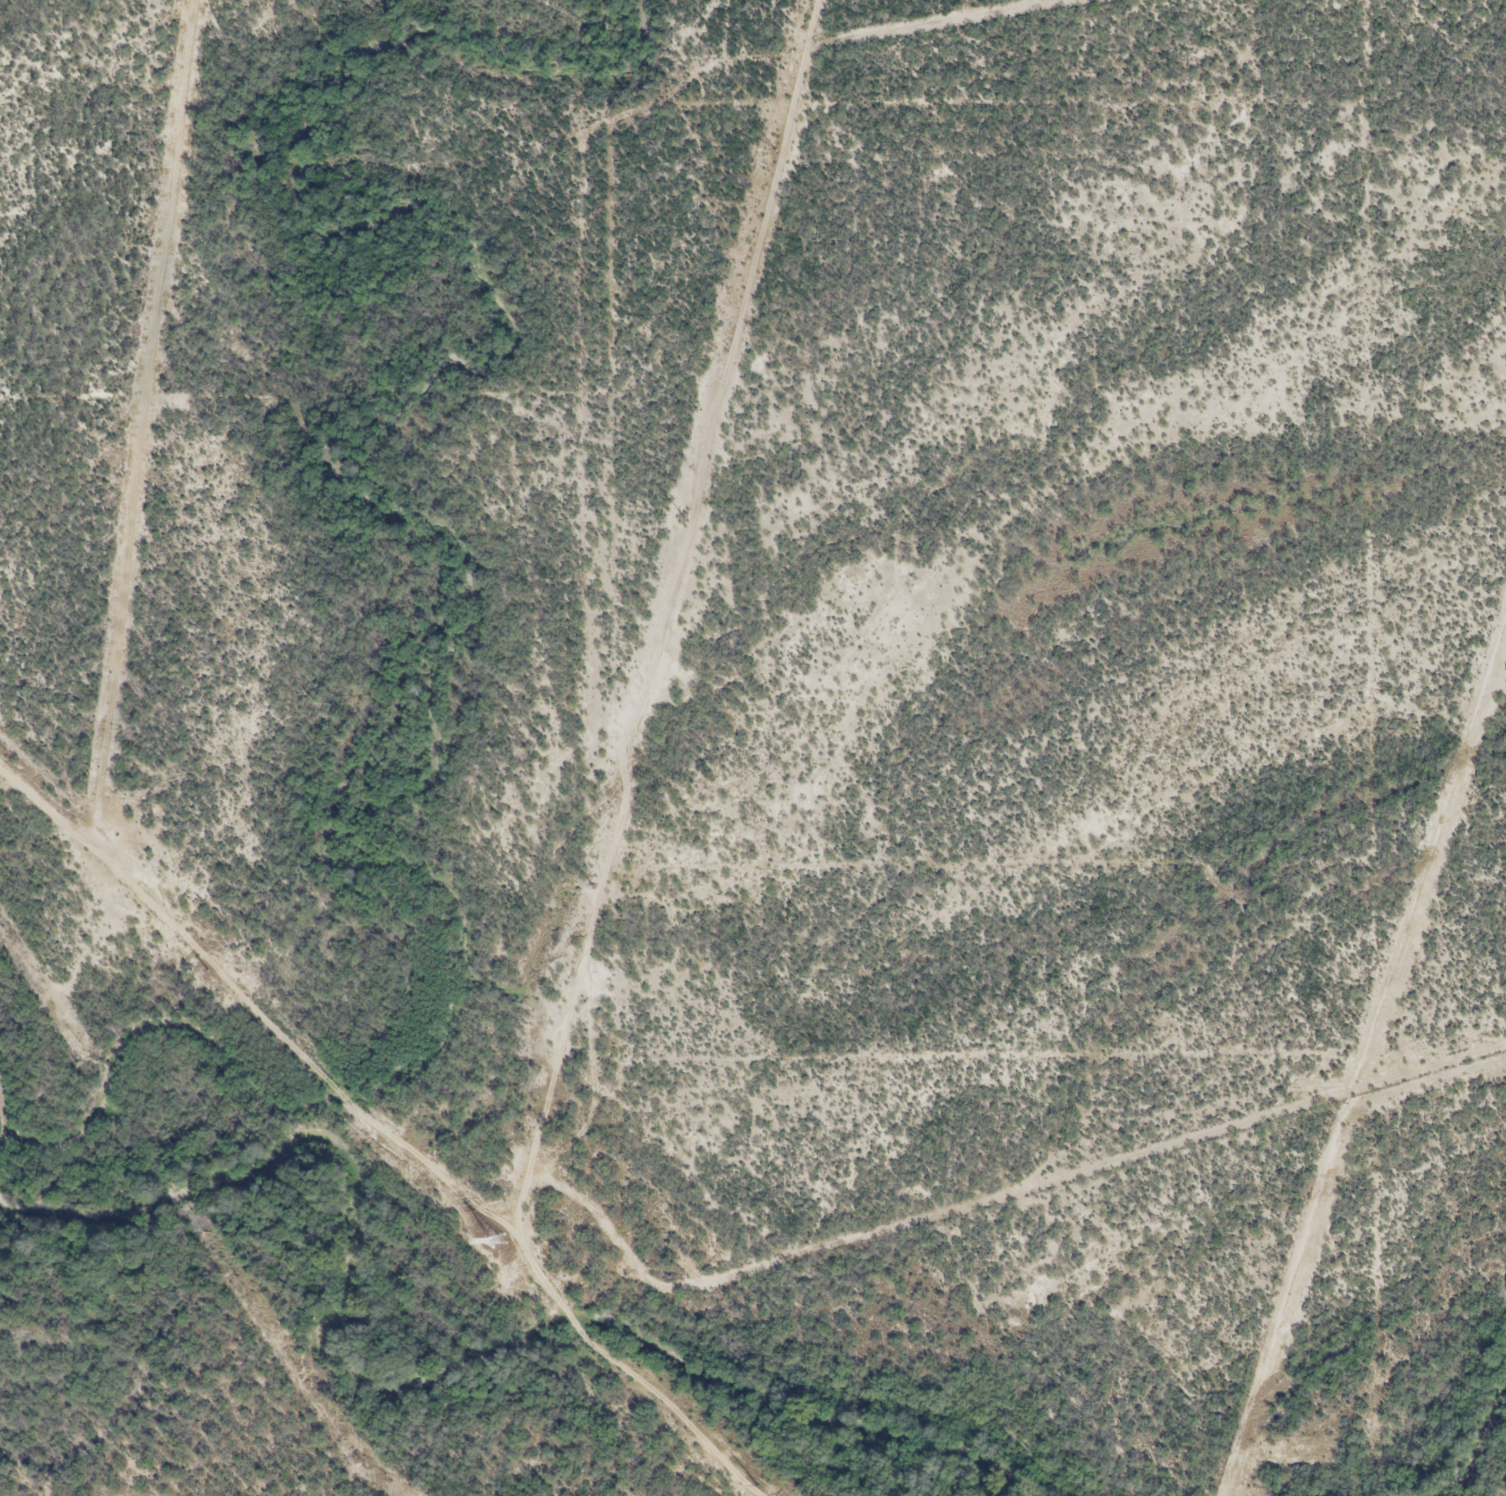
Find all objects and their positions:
power tower: (774, 151)
power tower: (684, 519)
power tower: (591, 886)
power tower: (207, 970)
power tower: (496, 1241)
power tower: (755, 1487)

